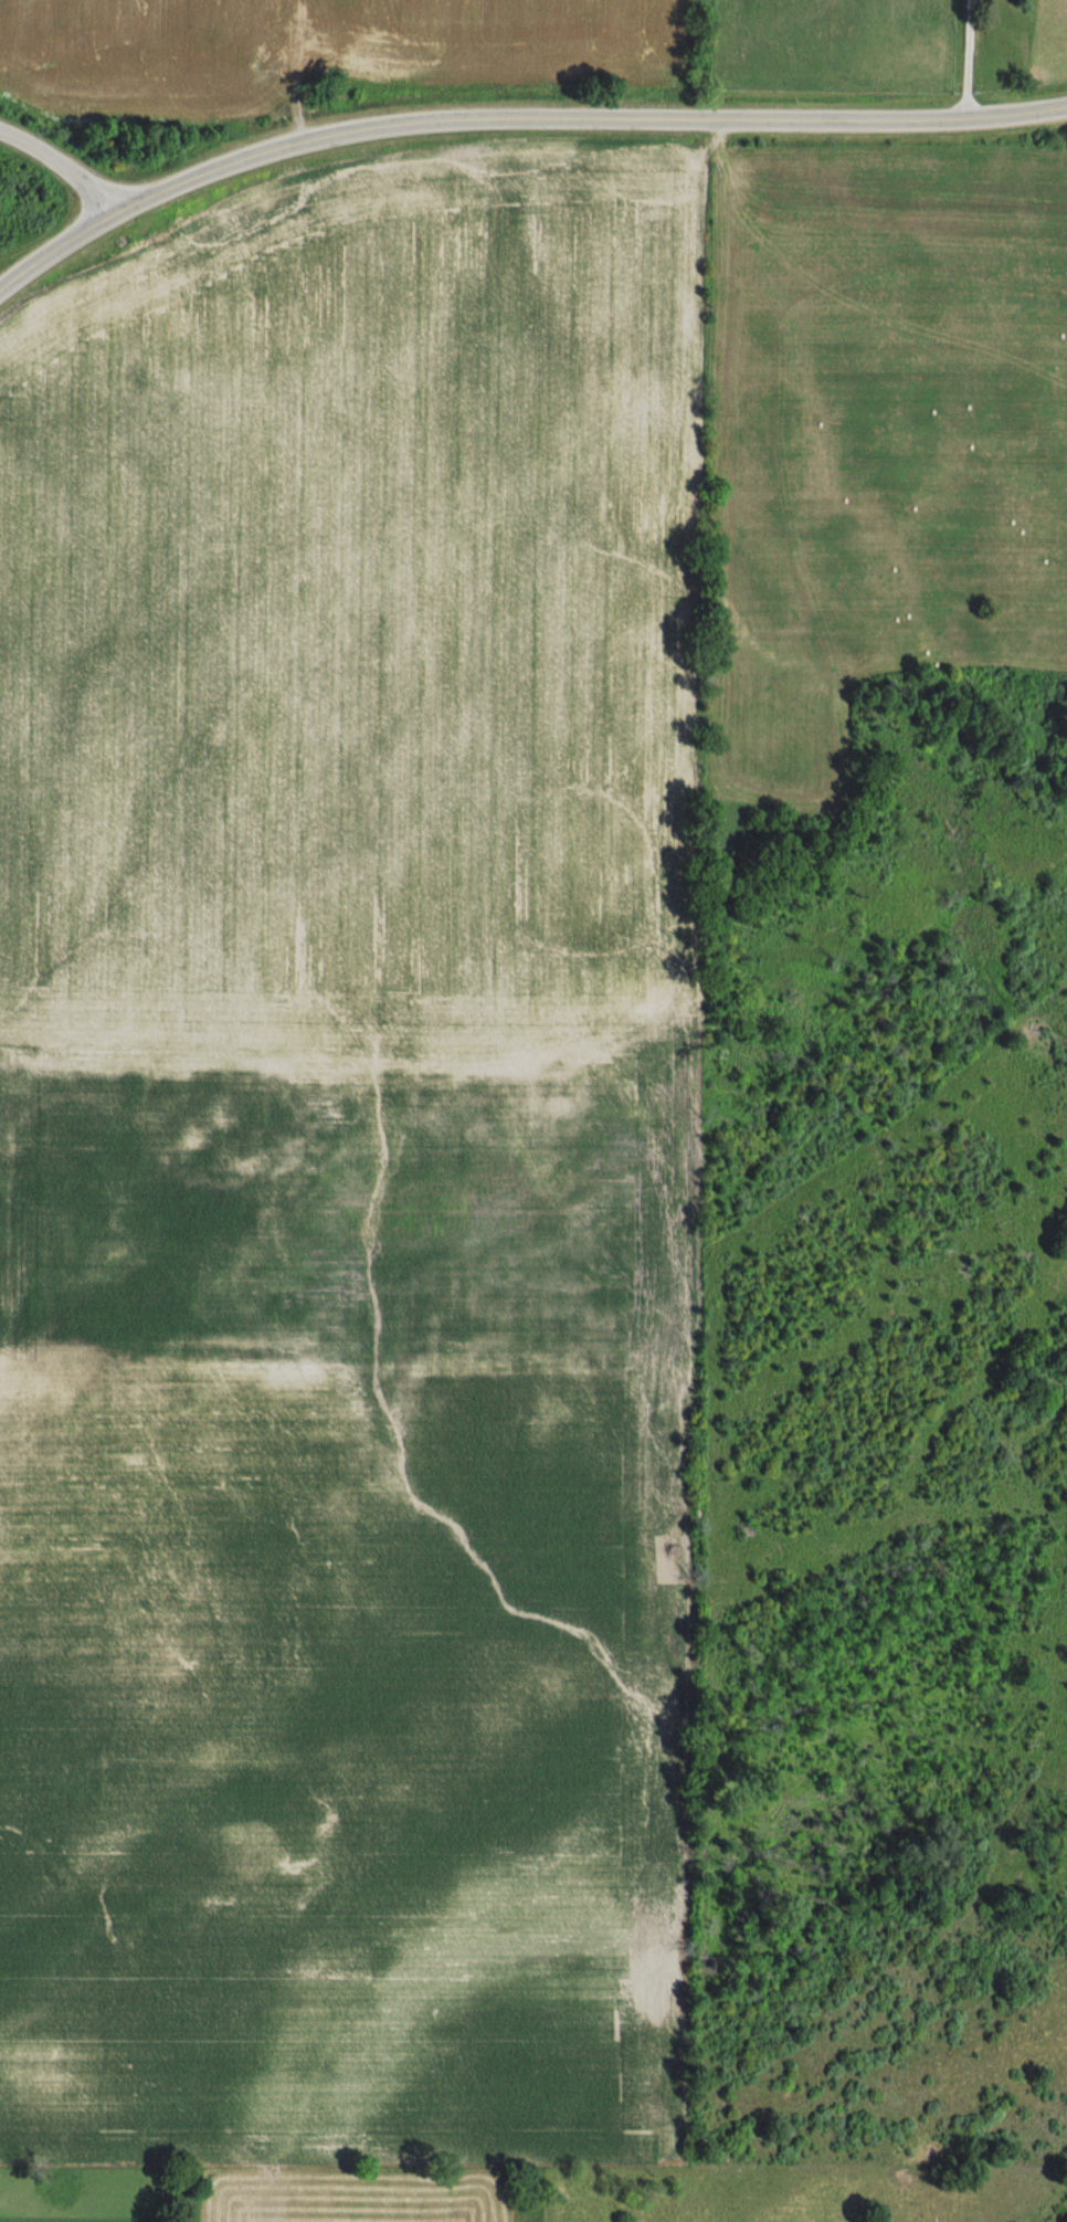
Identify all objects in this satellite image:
road: (952, 60)
road: (514, 116)
road: (63, 167)

